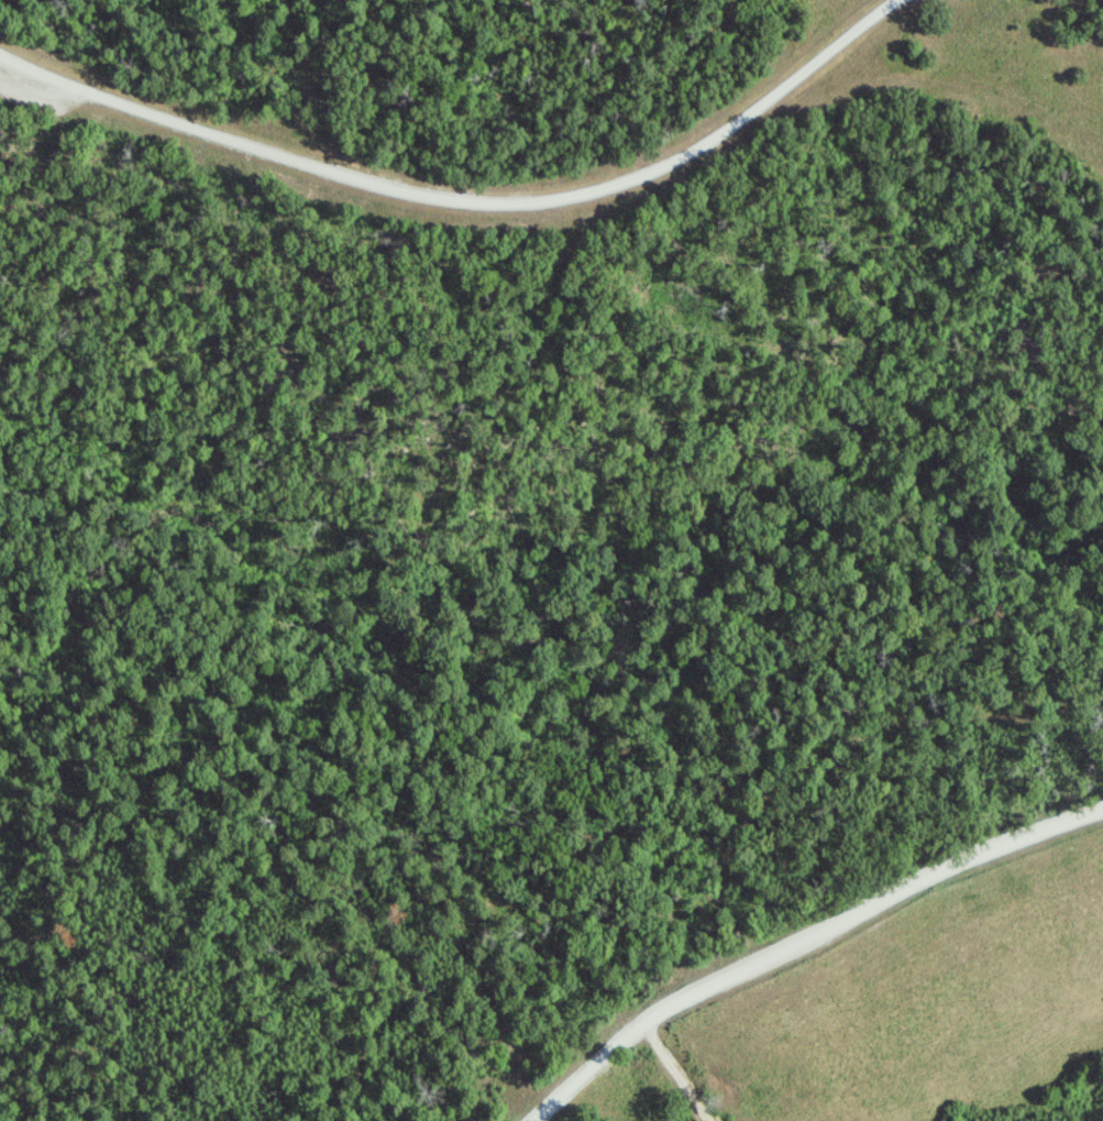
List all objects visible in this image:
parking lot: (33, 94)
road: (470, 201)
road: (813, 945)
road: (682, 1071)

